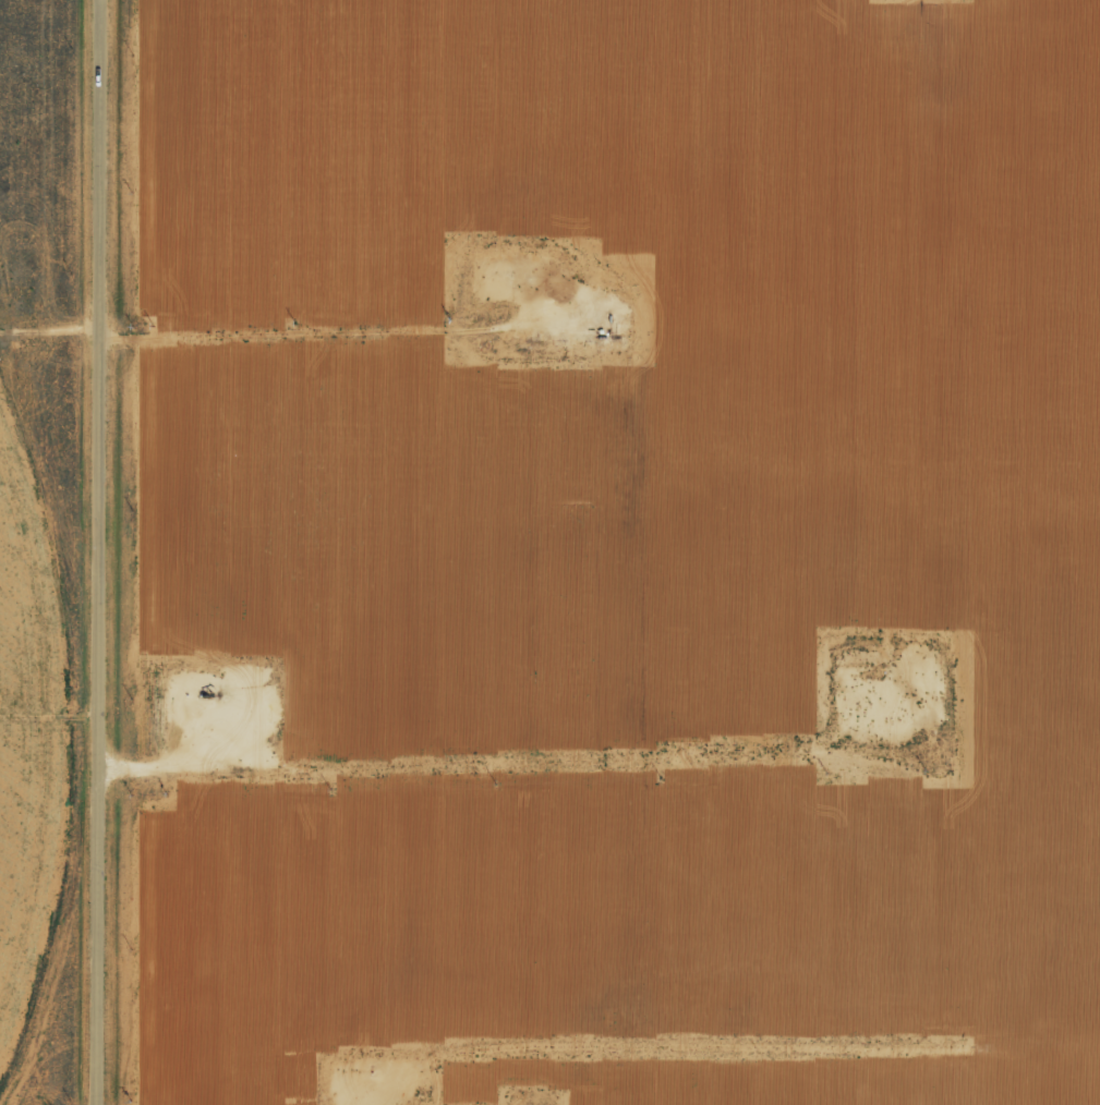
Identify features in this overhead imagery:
road: (322, 382)
road: (108, 551)
petroleum well: (209, 696)
road: (55, 1094)

